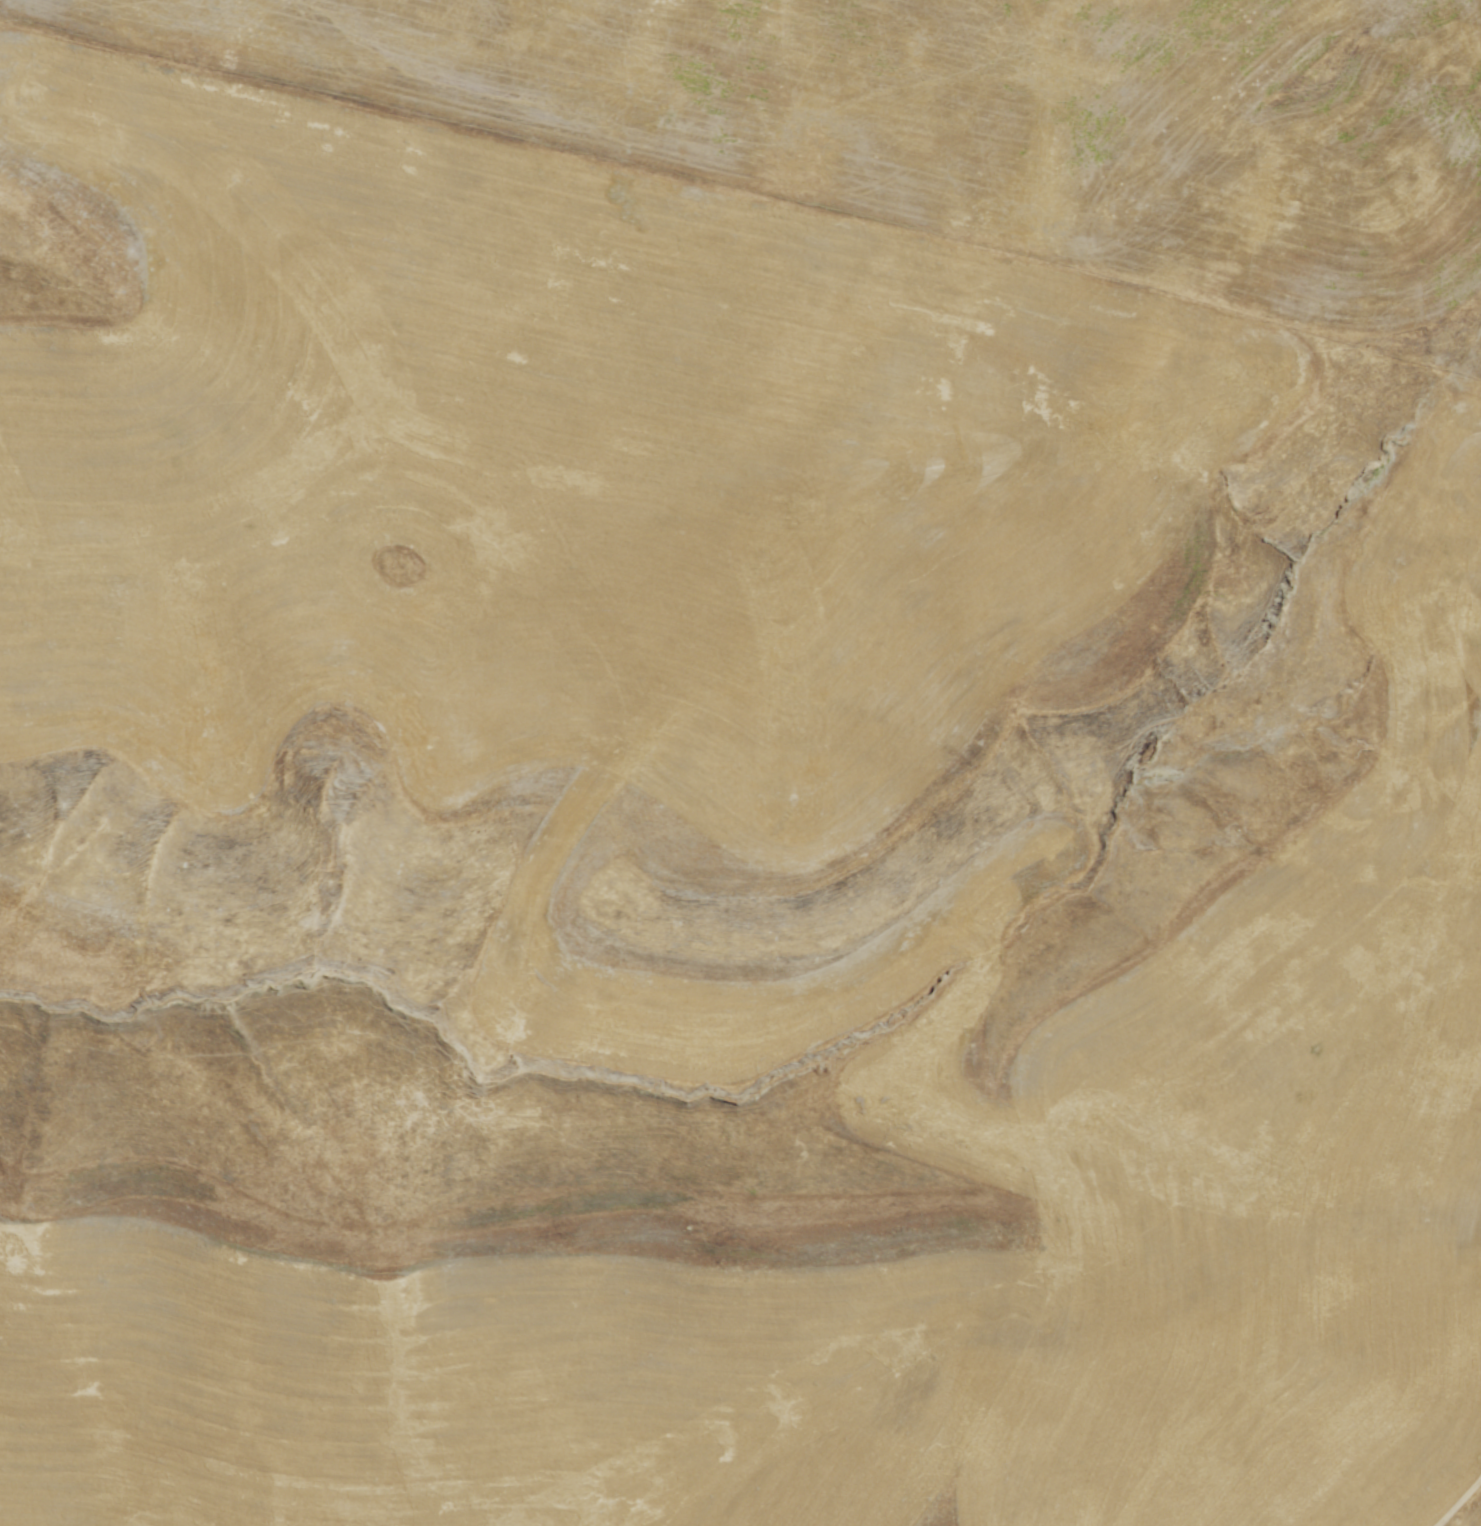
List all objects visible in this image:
road: (1456, 1498)

